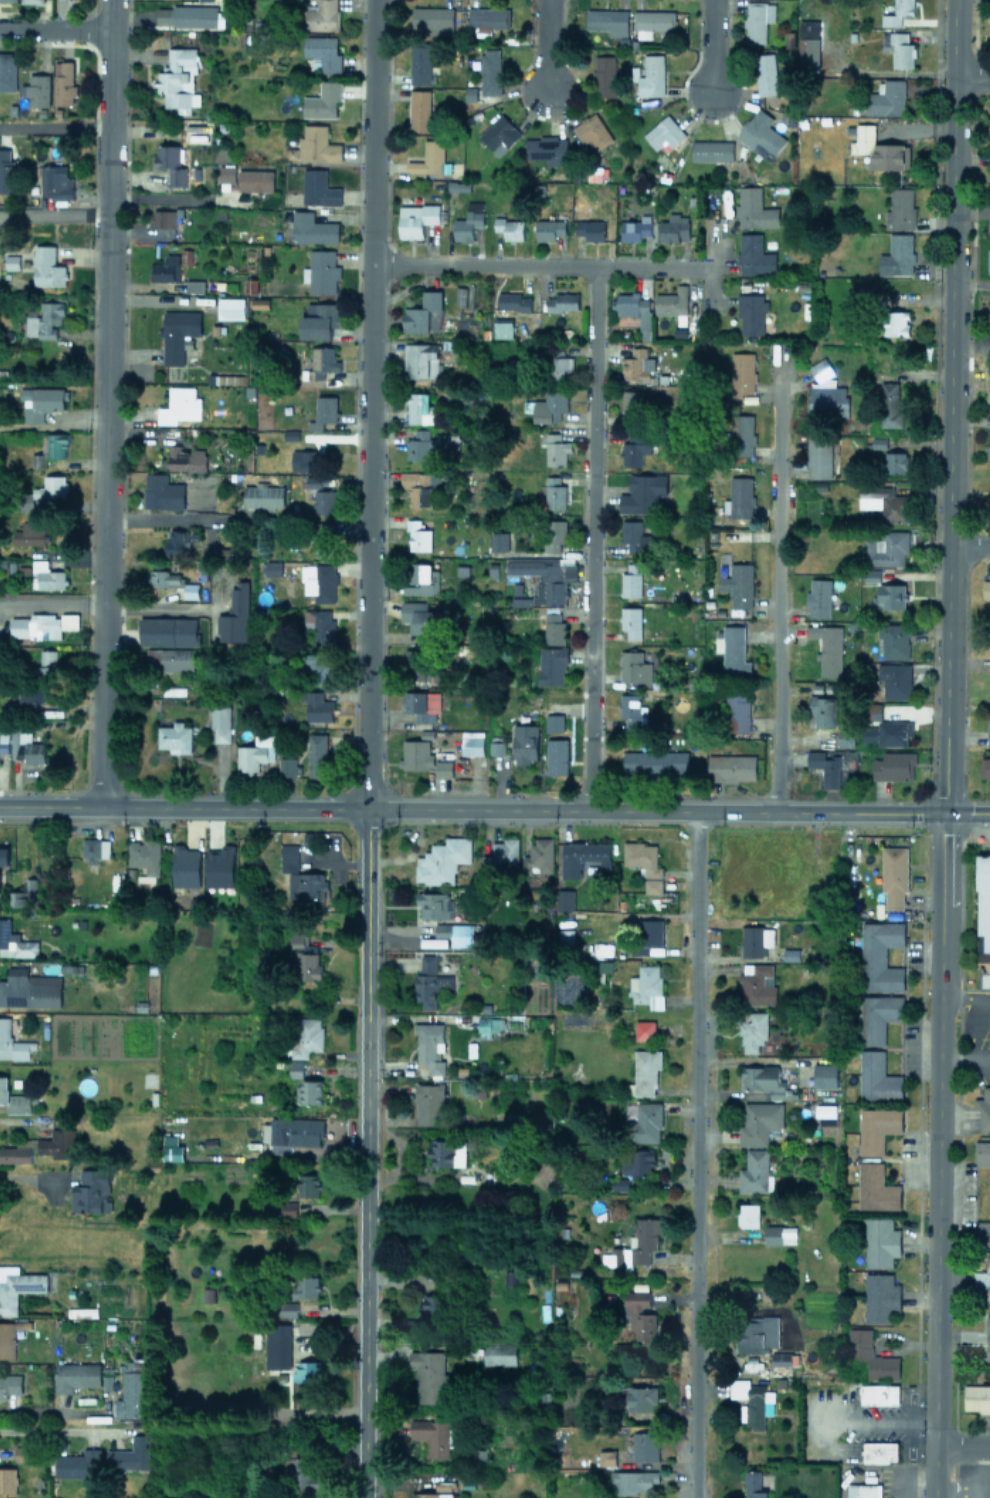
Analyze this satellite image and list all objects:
building: (8, 0)
building: (206, 0)
building: (32, 1)
building: (897, 13)
building: (322, 16)
building: (431, 16)
building: (488, 17)
building: (653, 19)
building: (757, 19)
building: (607, 20)
road: (52, 28)
building: (989, 32)
building: (789, 39)
road: (545, 44)
road: (708, 45)
building: (807, 47)
building: (896, 47)
building: (323, 51)
building: (419, 62)
building: (7, 71)
building: (489, 71)
road: (971, 72)
building: (652, 73)
building: (766, 73)
building: (604, 75)
building: (177, 79)
building: (63, 82)
building: (36, 90)
building: (886, 97)
building: (322, 100)
building: (418, 109)
road: (53, 124)
building: (591, 130)
building: (757, 130)
building: (662, 132)
building: (498, 133)
building: (317, 143)
building: (546, 148)
building: (879, 148)
building: (711, 149)
building: (427, 157)
building: (171, 161)
building: (225, 171)
building: (8, 172)
building: (255, 179)
building: (55, 182)
building: (316, 189)
road: (167, 197)
building: (899, 207)
building: (754, 208)
road: (52, 214)
building: (162, 217)
building: (414, 219)
building: (989, 226)
building: (463, 227)
building: (509, 227)
building: (673, 227)
building: (311, 228)
building: (635, 228)
building: (549, 229)
building: (589, 229)
building: (899, 253)
building: (753, 254)
building: (988, 260)
road: (539, 264)
building: (47, 267)
building: (166, 268)
building: (321, 270)
building: (194, 285)
building: (513, 301)
building: (561, 301)
building: (672, 302)
building: (258, 303)
building: (230, 307)
building: (636, 309)
building: (424, 312)
building: (751, 313)
building: (43, 319)
building: (318, 320)
building: (895, 322)
building: (177, 332)
building: (420, 359)
building: (323, 360)
building: (637, 365)
building: (560, 366)
building: (742, 374)
building: (988, 390)
building: (826, 393)
building: (631, 401)
building: (40, 402)
road: (106, 402)
road: (369, 403)
building: (890, 403)
building: (180, 405)
building: (548, 405)
building: (418, 406)
road: (947, 406)
building: (323, 411)
building: (742, 434)
building: (429, 442)
building: (56, 445)
building: (988, 445)
building: (633, 447)
building: (556, 449)
building: (819, 456)
building: (184, 457)
building: (305, 459)
building: (896, 461)
building: (313, 481)
building: (419, 486)
building: (50, 487)
building: (162, 491)
building: (554, 491)
building: (640, 494)
building: (263, 496)
building: (739, 497)
building: (324, 501)
building: (893, 505)
road: (173, 519)
building: (554, 532)
building: (29, 534)
building: (419, 535)
building: (633, 536)
road: (590, 537)
building: (175, 540)
building: (498, 540)
building: (325, 543)
road: (968, 544)
building: (887, 547)
building: (272, 566)
building: (47, 576)
building: (543, 577)
building: (630, 578)
building: (171, 580)
building: (319, 580)
building: (422, 580)
building: (738, 584)
road: (778, 588)
building: (986, 588)
building: (891, 595)
building: (819, 597)
road: (53, 602)
road: (158, 608)
building: (235, 614)
building: (419, 616)
building: (630, 622)
building: (43, 624)
building: (321, 624)
building: (554, 627)
building: (168, 631)
building: (894, 640)
building: (828, 647)
building: (732, 649)
building: (170, 658)
building: (46, 663)
building: (419, 663)
building: (551, 665)
building: (633, 666)
building: (319, 669)
building: (896, 680)
building: (30, 696)
building: (421, 704)
building: (318, 706)
building: (632, 709)
building: (821, 710)
building: (737, 711)
building: (220, 723)
building: (989, 725)
building: (885, 732)
building: (174, 736)
building: (845, 739)
building: (3, 742)
building: (472, 742)
building: (524, 743)
building: (496, 744)
building: (26, 747)
building: (254, 752)
building: (318, 755)
building: (654, 761)
building: (424, 763)
building: (825, 765)
building: (893, 765)
building: (287, 766)
building: (730, 766)
building: (985, 767)
road: (74, 804)
road: (545, 808)
road: (965, 812)
building: (94, 849)
building: (500, 854)
building: (3, 855)
building: (538, 856)
building: (582, 856)
building: (143, 858)
building: (289, 859)
building: (442, 860)
building: (644, 863)
building: (185, 866)
building: (219, 866)
building: (894, 876)
building: (306, 885)
building: (17, 898)
building: (564, 899)
building: (434, 904)
building: (983, 920)
building: (455, 933)
building: (649, 935)
building: (756, 940)
building: (15, 942)
building: (790, 954)
building: (880, 956)
building: (305, 961)
building: (429, 982)
building: (757, 984)
building: (646, 986)
building: (29, 989)
road: (962, 996)
road: (986, 1008)
building: (878, 1017)
building: (489, 1025)
building: (644, 1029)
building: (754, 1033)
road: (975, 1033)
building: (306, 1036)
building: (12, 1042)
building: (430, 1046)
road: (956, 1059)
road: (982, 1059)
building: (295, 1068)
building: (644, 1072)
building: (825, 1075)
building: (877, 1077)
building: (764, 1080)
building: (308, 1092)
building: (13, 1098)
building: (428, 1104)
building: (984, 1108)
building: (825, 1110)
building: (643, 1121)
building: (760, 1123)
building: (877, 1128)
building: (294, 1133)
building: (56, 1143)
building: (172, 1148)
road: (363, 1152)
building: (982, 1152)
building: (446, 1153)
building: (15, 1154)
road: (695, 1154)
road: (936, 1154)
building: (639, 1162)
building: (755, 1172)
road: (33, 1174)
building: (309, 1184)
building: (619, 1184)
building: (876, 1188)
building: (90, 1191)
building: (748, 1215)
building: (982, 1232)
building: (779, 1234)
building: (644, 1238)
building: (881, 1242)
building: (610, 1257)
building: (983, 1279)
building: (17, 1286)
building: (305, 1286)
building: (880, 1297)
building: (430, 1308)
building: (639, 1314)
building: (751, 1337)
building: (987, 1337)
building: (8, 1338)
building: (860, 1341)
building: (278, 1347)
building: (499, 1353)
building: (781, 1357)
building: (649, 1366)
building: (306, 1370)
building: (778, 1370)
building: (75, 1375)
building: (430, 1375)
building: (9, 1384)
building: (132, 1390)
building: (878, 1393)
building: (976, 1397)
building: (641, 1398)
building: (751, 1401)
road: (46, 1409)
building: (433, 1436)
road: (961, 1444)
building: (645, 1445)
building: (879, 1452)
building: (20, 1453)
building: (132, 1454)
building: (606, 1457)
road: (955, 1462)
building: (78, 1464)
road: (983, 1471)
building: (7, 1479)
building: (633, 1481)
building: (753, 1484)
building: (862, 1490)
building: (432, 1495)

